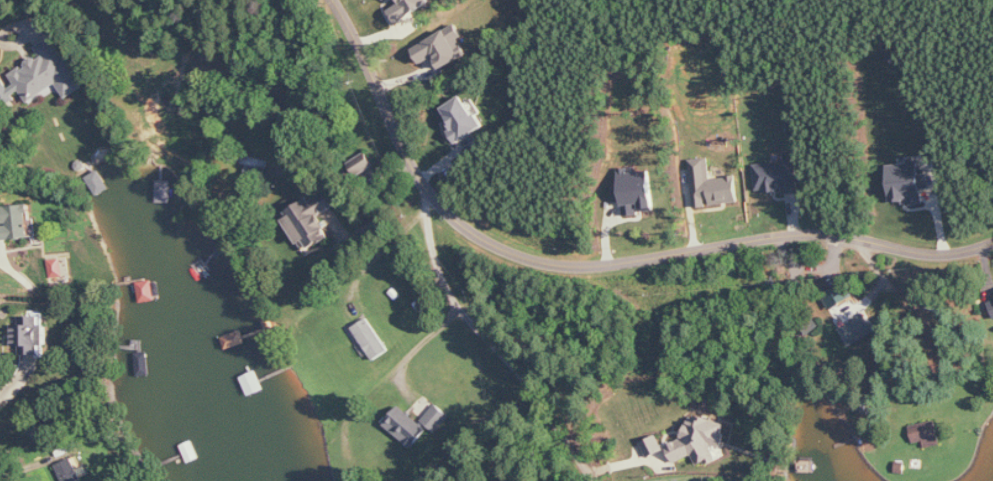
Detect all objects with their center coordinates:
building: (408, 8)
road: (1, 40)
building: (442, 47)
building: (43, 75)
building: (461, 118)
building: (777, 176)
building: (908, 183)
building: (711, 185)
building: (636, 193)
road: (383, 204)
building: (310, 220)
building: (16, 222)
road: (383, 251)
road: (594, 262)
building: (88, 263)
building: (837, 297)
building: (991, 305)
building: (857, 329)
building: (31, 334)
building: (371, 338)
road: (421, 341)
road: (491, 347)
building: (436, 418)
building: (405, 426)
road: (471, 429)
building: (926, 433)
building: (652, 446)
building: (69, 471)
road: (705, 480)

